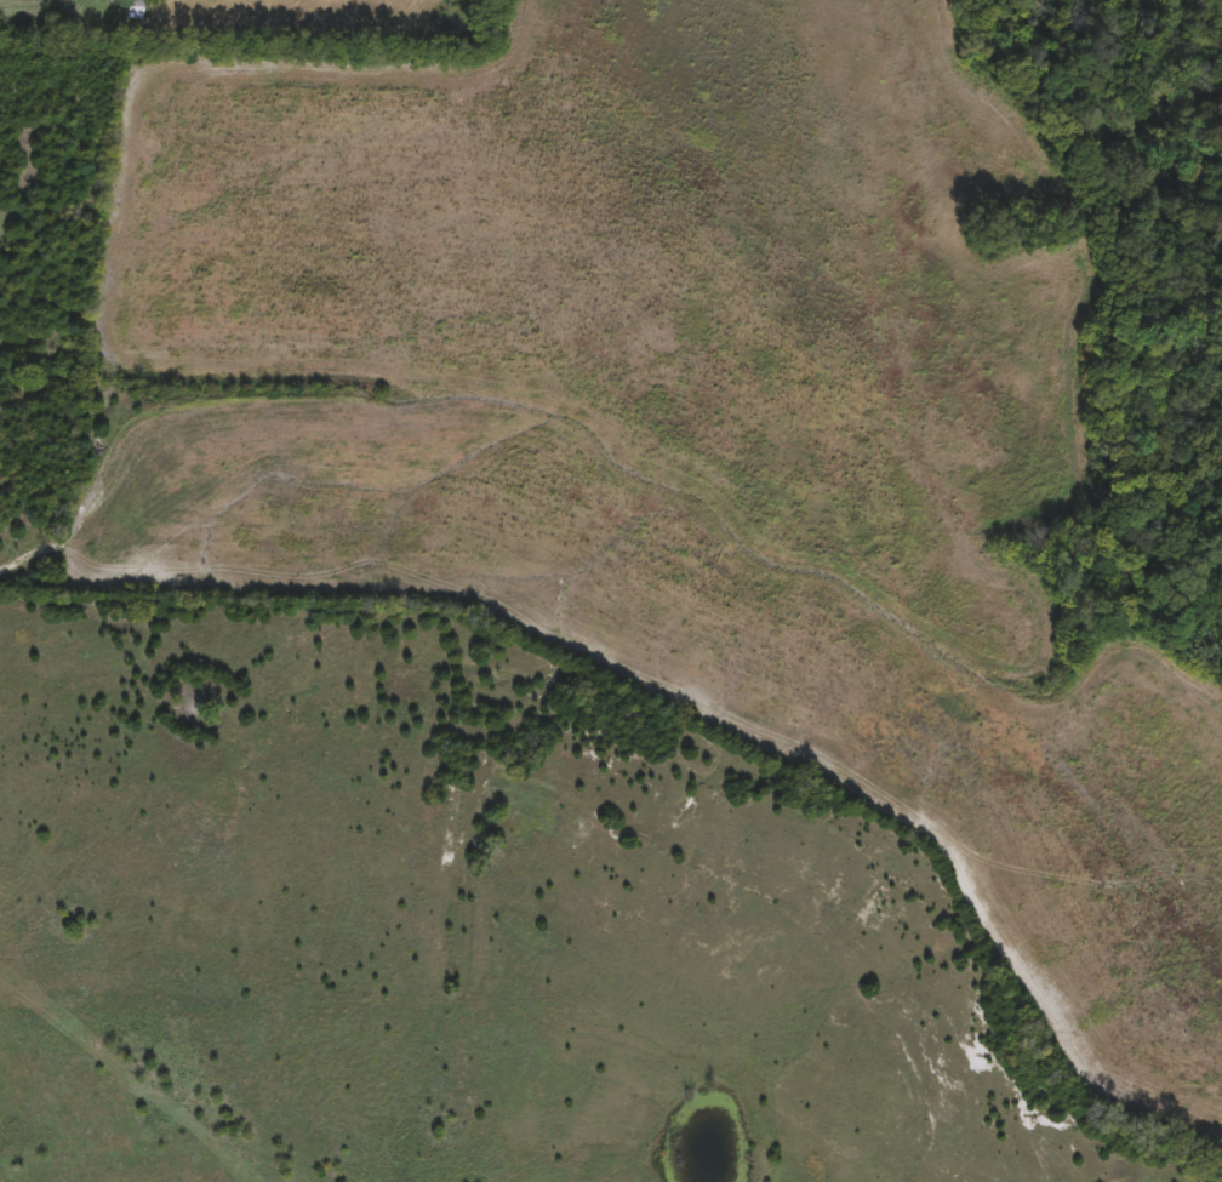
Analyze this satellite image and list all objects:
building: (133, 10)

